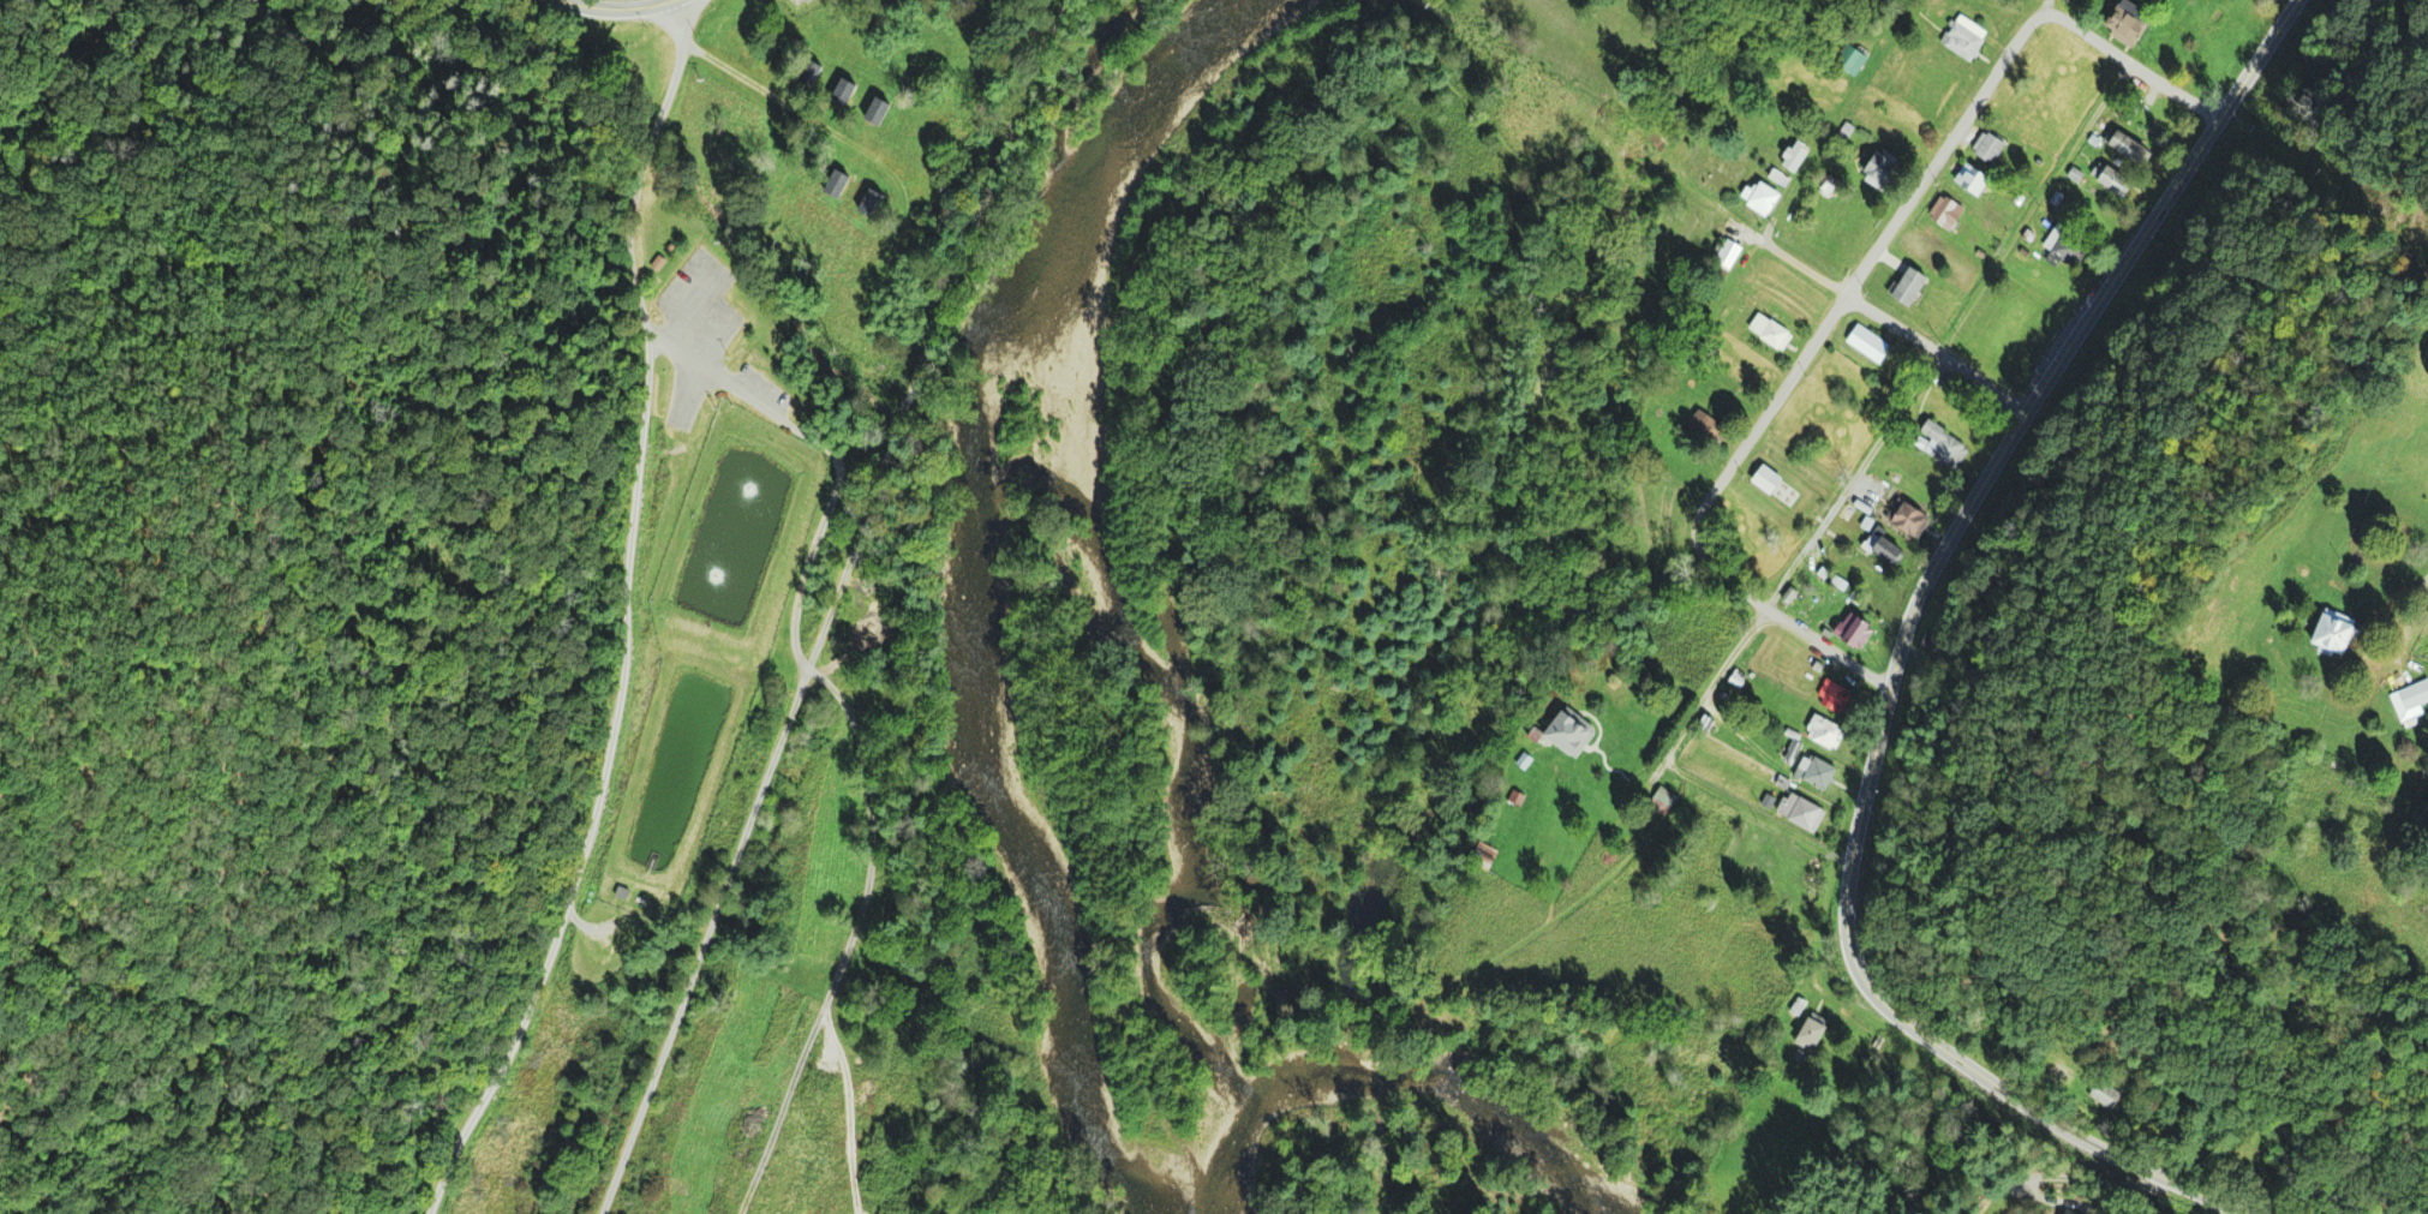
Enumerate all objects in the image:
road: (628, 4)
building: (2129, 22)
building: (1966, 38)
building: (1852, 60)
road: (2131, 66)
park: (2040, 83)
building: (845, 90)
building: (880, 109)
road: (802, 113)
road: (1825, 139)
building: (1990, 146)
building: (2127, 148)
building: (1787, 149)
road: (1942, 154)
road: (641, 156)
building: (1880, 168)
building: (1777, 177)
building: (1969, 178)
building: (2109, 178)
building: (839, 183)
building: (1830, 185)
building: (1764, 198)
building: (872, 203)
building: (1946, 215)
building: (2067, 244)
building: (1727, 255)
building: (1910, 287)
building: (2032, 315)
road: (1892, 328)
building: (1769, 330)
building: (1868, 343)
road: (925, 346)
parking lot: (696, 351)
road: (1895, 414)
building: (1704, 424)
building: (1939, 443)
road: (1735, 460)
building: (1847, 512)
building: (1908, 518)
building: (1888, 551)
river: (970, 594)
building: (1789, 594)
building: (1854, 630)
building: (2337, 630)
building: (1938, 647)
road: (1825, 651)
road: (1900, 651)
road: (797, 681)
building: (2414, 694)
building: (1835, 695)
road: (841, 706)
building: (1824, 731)
building: (1571, 735)
building: (1819, 773)
road: (593, 781)
building: (1663, 801)
building: (1802, 813)
road: (1753, 815)
road: (701, 956)
building: (1813, 1033)
building: (2105, 1095)
building: (2069, 1212)

